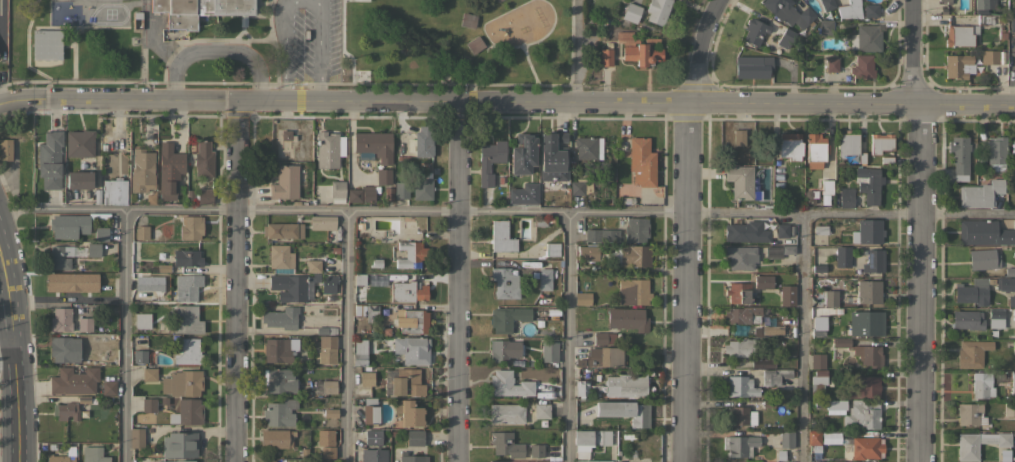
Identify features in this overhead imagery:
building: (362, 0)
building: (496, 0)
building: (498, 0)
building: (946, 1)
building: (827, 4)
building: (983, 5)
building: (850, 9)
building: (871, 10)
building: (200, 11)
building: (657, 11)
building: (632, 12)
building: (788, 12)
building: (985, 19)
building: (468, 20)
building: (1012, 24)
building: (825, 27)
building: (754, 31)
building: (960, 35)
building: (785, 38)
building: (866, 38)
park: (457, 40)
building: (46, 44)
building: (475, 44)
road: (285, 49)
road: (320, 49)
road: (698, 50)
road: (0, 51)
road: (215, 51)
road: (574, 52)
building: (643, 52)
road: (910, 53)
building: (1014, 53)
building: (605, 55)
building: (989, 57)
building: (831, 65)
building: (958, 66)
building: (752, 67)
building: (862, 67)
road: (117, 99)
road: (247, 101)
road: (637, 104)
building: (738, 137)
building: (421, 142)
building: (880, 142)
building: (79, 143)
building: (374, 145)
building: (789, 146)
building: (849, 146)
building: (587, 147)
building: (815, 147)
building: (5, 149)
building: (327, 149)
building: (994, 149)
building: (1012, 149)
building: (523, 153)
building: (552, 157)
building: (960, 157)
building: (203, 159)
building: (50, 160)
building: (489, 160)
building: (641, 161)
building: (169, 167)
building: (142, 170)
building: (383, 176)
building: (79, 180)
building: (739, 181)
building: (284, 182)
building: (868, 184)
building: (421, 185)
building: (577, 188)
building: (337, 189)
building: (400, 189)
building: (825, 190)
building: (114, 191)
building: (523, 193)
building: (980, 193)
building: (361, 194)
building: (204, 196)
building: (846, 200)
road: (507, 213)
building: (322, 222)
building: (73, 224)
building: (188, 226)
building: (636, 229)
building: (282, 230)
building: (781, 230)
building: (746, 231)
building: (869, 231)
building: (141, 232)
building: (100, 233)
building: (409, 233)
building: (983, 233)
building: (601, 234)
building: (501, 237)
building: (93, 249)
building: (552, 249)
building: (778, 250)
building: (588, 253)
building: (409, 254)
building: (630, 255)
building: (280, 256)
building: (843, 256)
building: (60, 257)
building: (740, 257)
building: (186, 258)
building: (983, 259)
building: (873, 261)
building: (312, 265)
building: (544, 275)
building: (358, 279)
building: (148, 281)
road: (236, 281)
building: (763, 281)
building: (72, 282)
road: (455, 282)
building: (328, 283)
building: (504, 283)
road: (681, 283)
road: (919, 283)
building: (1005, 284)
building: (186, 287)
building: (288, 287)
building: (407, 291)
building: (633, 291)
building: (869, 291)
building: (738, 292)
building: (972, 292)
building: (787, 295)
building: (830, 297)
road: (67, 298)
building: (582, 298)
building: (1011, 300)
building: (366, 311)
building: (741, 313)
building: (281, 317)
building: (507, 318)
building: (995, 318)
building: (60, 319)
building: (186, 319)
building: (627, 319)
building: (967, 319)
building: (142, 320)
building: (413, 321)
building: (85, 323)
building: (866, 323)
building: (818, 325)
building: (772, 329)
building: (321, 330)
road: (123, 336)
road: (346, 337)
road: (567, 337)
building: (604, 338)
road: (801, 338)
building: (90, 343)
building: (415, 344)
building: (738, 347)
building: (1013, 347)
building: (64, 348)
building: (279, 349)
building: (325, 349)
building: (503, 350)
road: (8, 351)
road: (16, 351)
building: (188, 351)
building: (549, 351)
building: (359, 352)
building: (861, 352)
building: (971, 353)
building: (138, 356)
building: (604, 357)
building: (818, 360)
building: (762, 363)
building: (149, 374)
building: (775, 375)
building: (366, 378)
building: (73, 380)
building: (279, 380)
building: (818, 381)
building: (182, 382)
building: (406, 382)
building: (1013, 383)
building: (509, 384)
building: (626, 385)
building: (981, 385)
building: (328, 386)
building: (741, 386)
building: (863, 387)
building: (109, 388)
building: (585, 388)
building: (830, 403)
building: (149, 405)
building: (1009, 409)
building: (370, 410)
building: (542, 410)
building: (66, 411)
building: (624, 411)
building: (187, 412)
building: (280, 412)
building: (408, 412)
building: (506, 413)
building: (969, 414)
building: (737, 415)
building: (862, 415)
building: (373, 436)
building: (136, 437)
building: (325, 437)
building: (414, 437)
building: (813, 437)
building: (276, 438)
building: (786, 439)
building: (589, 440)
building: (179, 444)
building: (505, 444)
building: (741, 445)
building: (867, 447)
building: (537, 450)
building: (328, 452)
building: (967, 453)
building: (93, 454)
building: (373, 455)
building: (1005, 455)
building: (62, 456)
building: (411, 457)
building: (591, 460)
building: (177, 461)
building: (269, 461)
building: (530, 461)
building: (619, 461)

